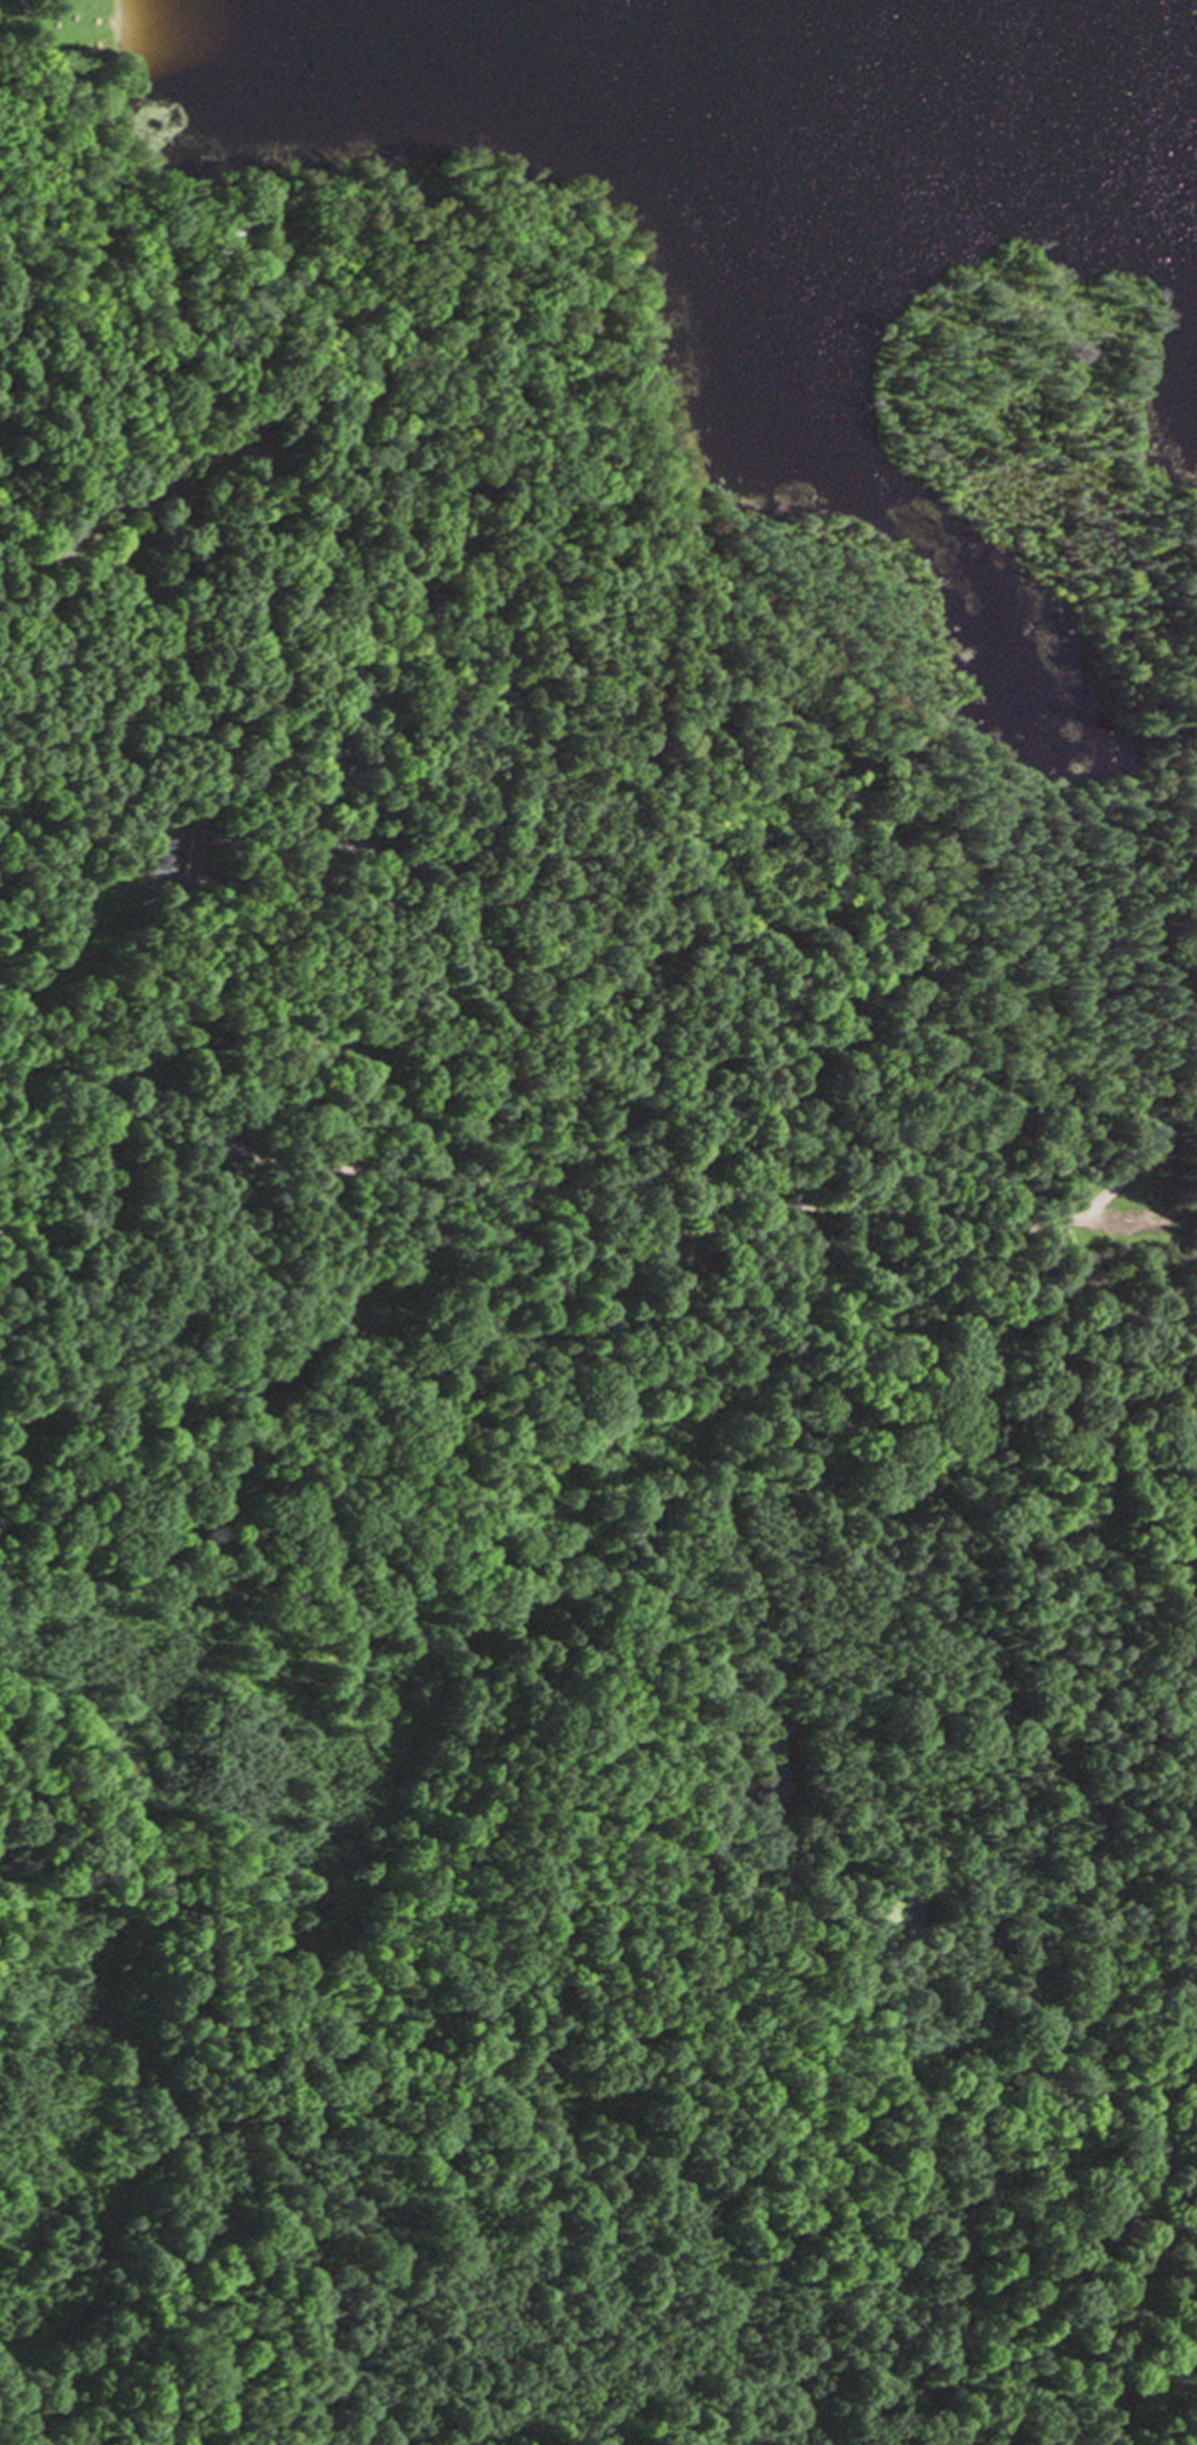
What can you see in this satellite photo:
park: (541, 691)
building: (165, 854)
road: (1144, 1153)
road: (313, 1158)
road: (1104, 1303)
road: (386, 1775)

